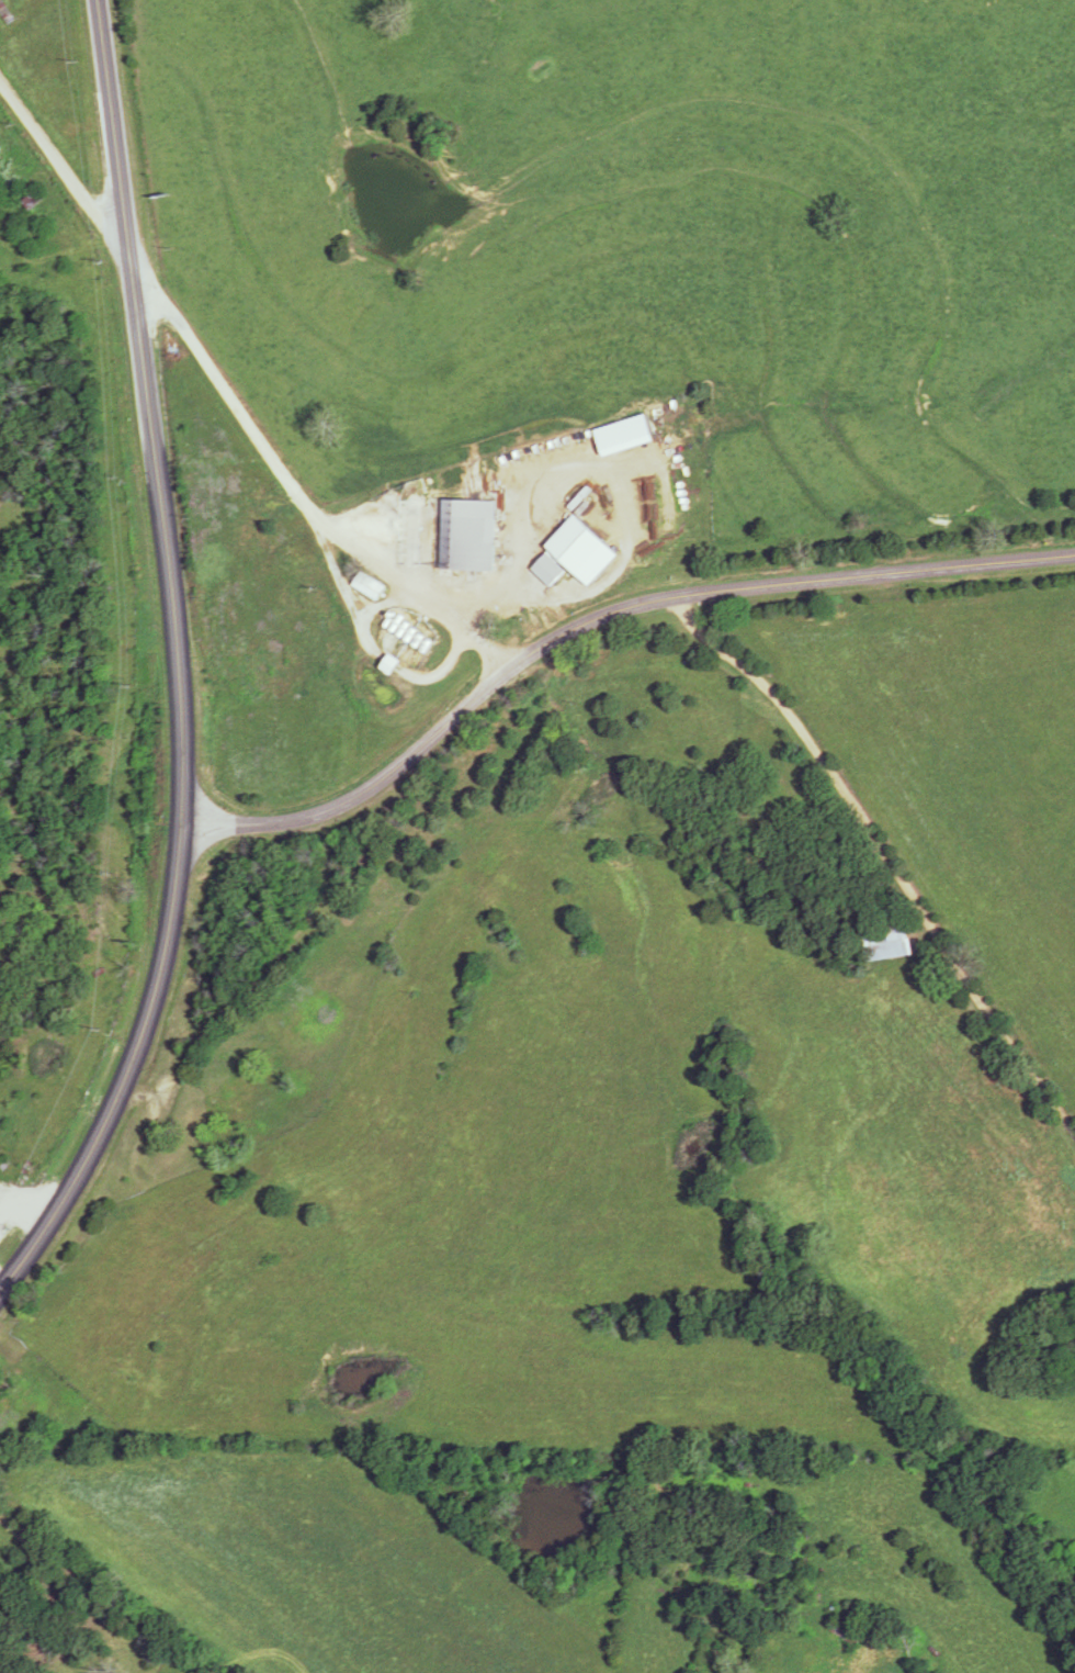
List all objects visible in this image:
road: (63, 170)
building: (34, 200)
road: (162, 512)
building: (467, 543)
building: (570, 550)
building: (369, 586)
road: (601, 620)
road: (884, 855)
building: (886, 941)
building: (220, 1087)
road: (87, 1165)
road: (21, 1534)

